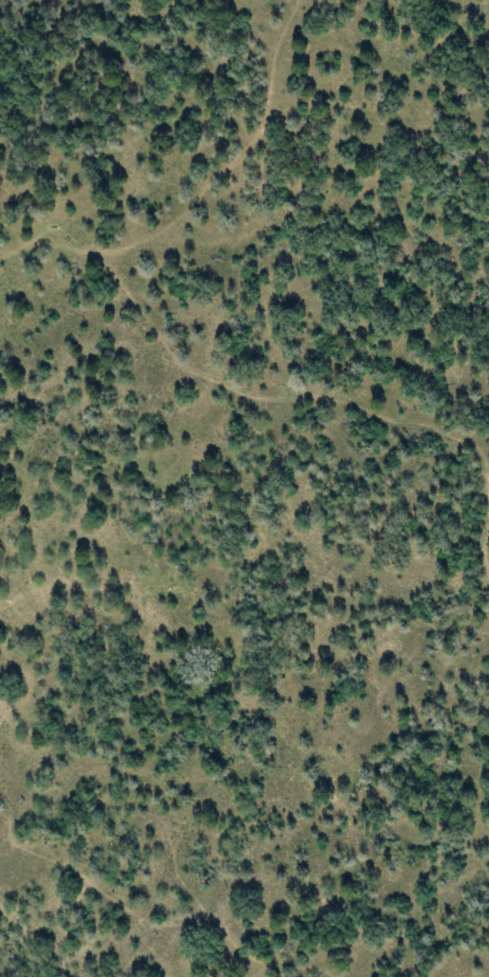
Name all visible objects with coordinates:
road: (245, 609)

